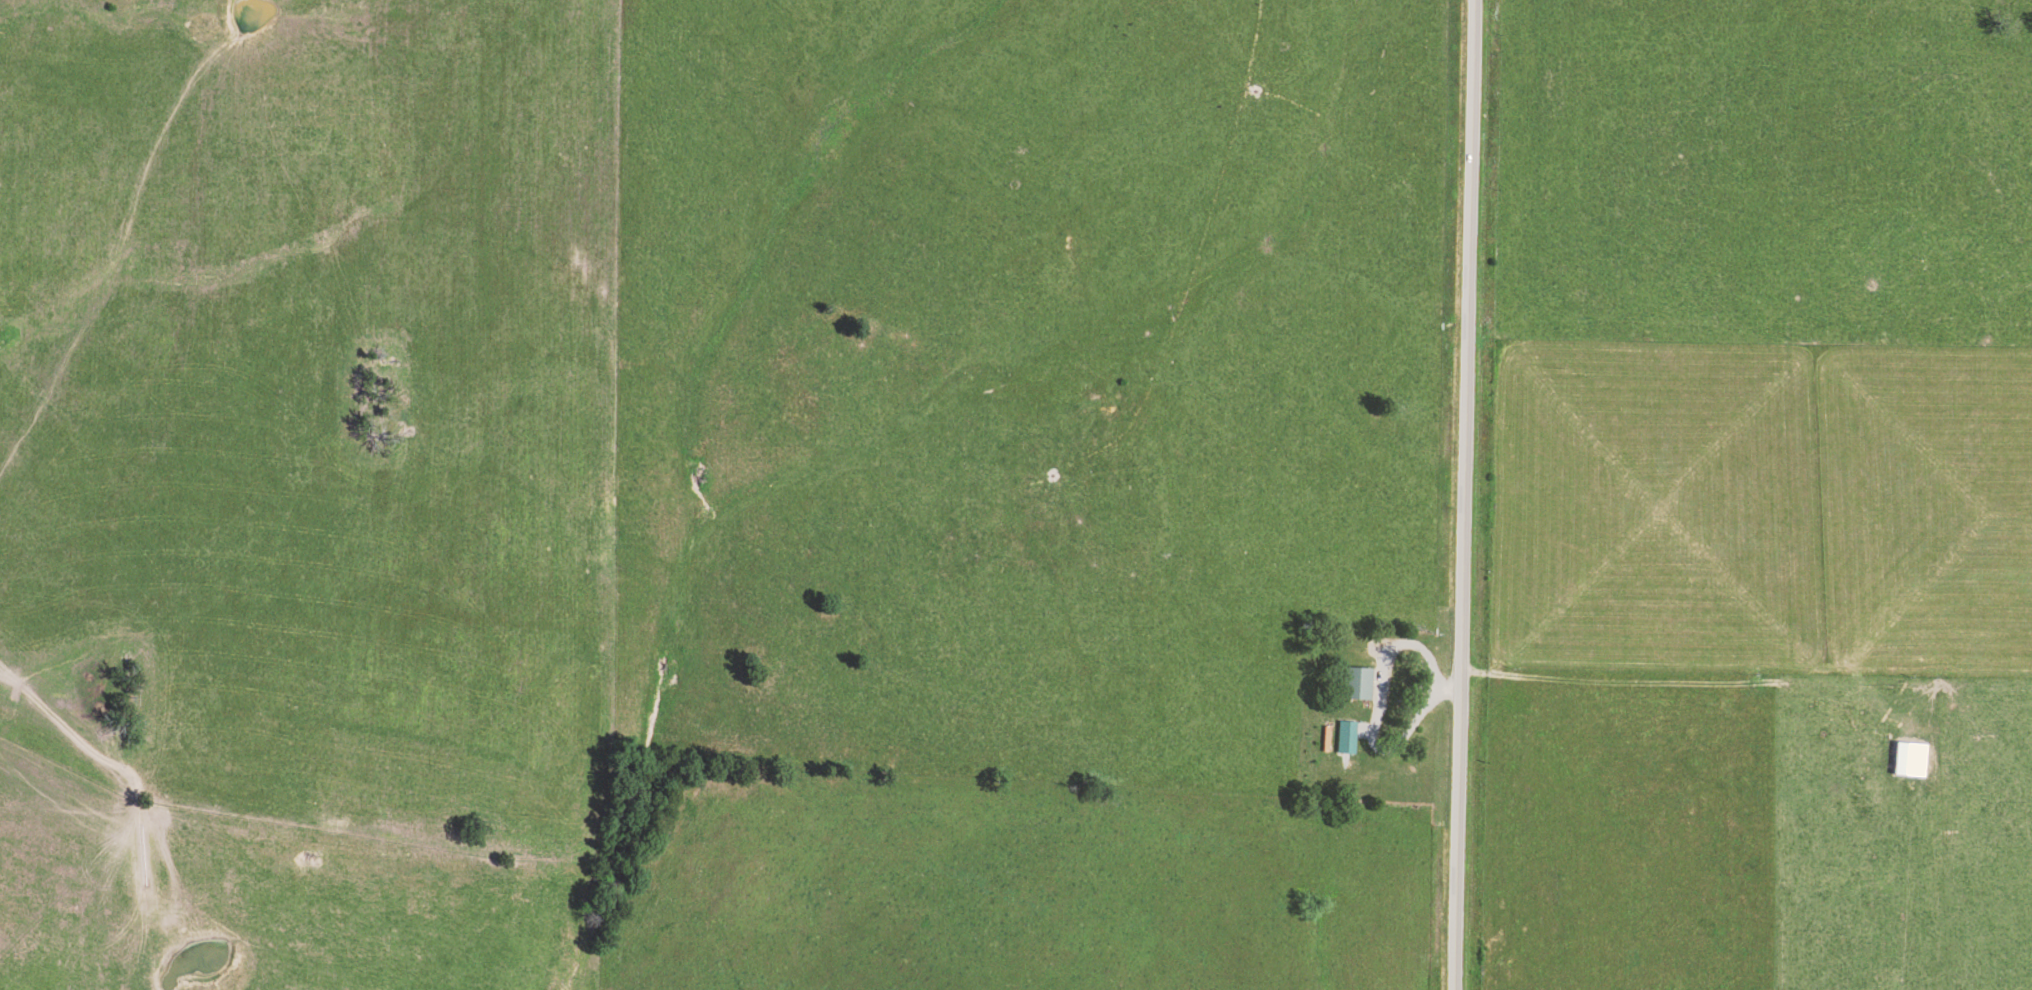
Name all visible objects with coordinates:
road: (1461, 495)
building: (1353, 682)
building: (1344, 735)

